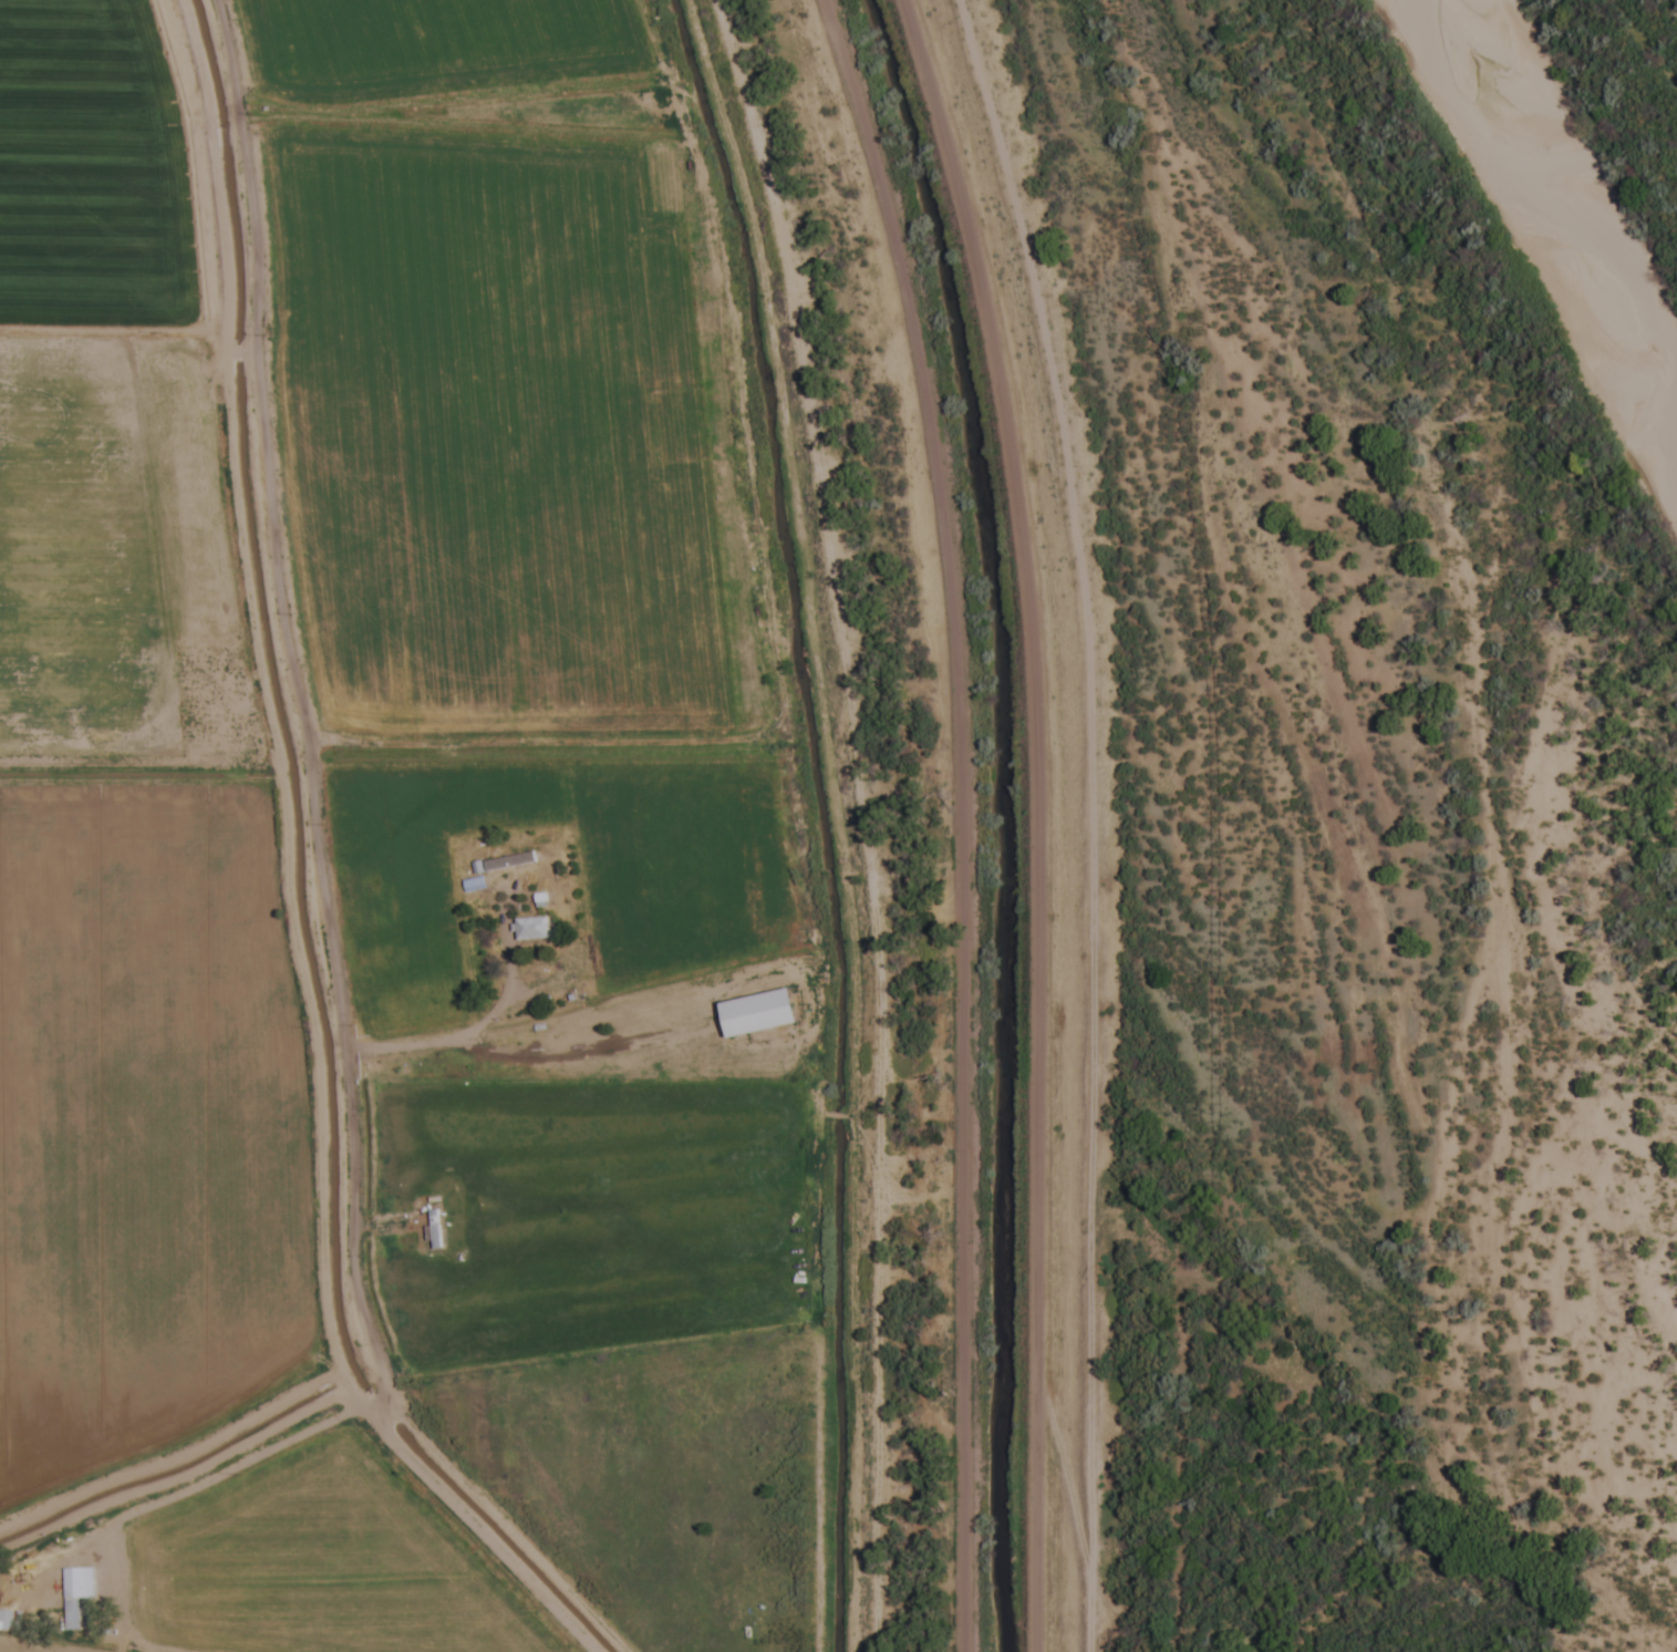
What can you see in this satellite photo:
river: (1552, 226)
road: (963, 817)
road: (1073, 818)
road: (311, 867)
building: (474, 885)
building: (530, 932)
building: (759, 1014)
building: (75, 1596)
building: (9, 1622)

